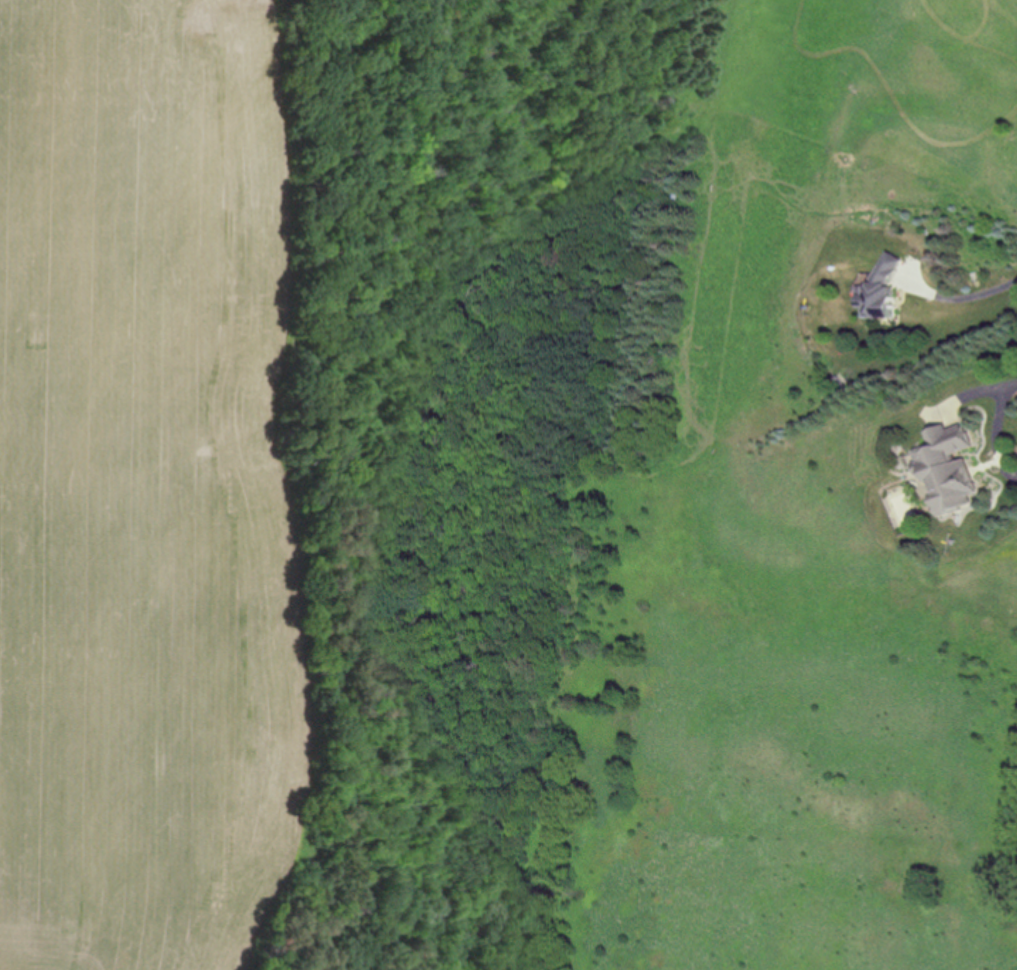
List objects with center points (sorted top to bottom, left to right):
building: (883, 291)
road: (967, 297)
road: (997, 430)
building: (949, 468)

